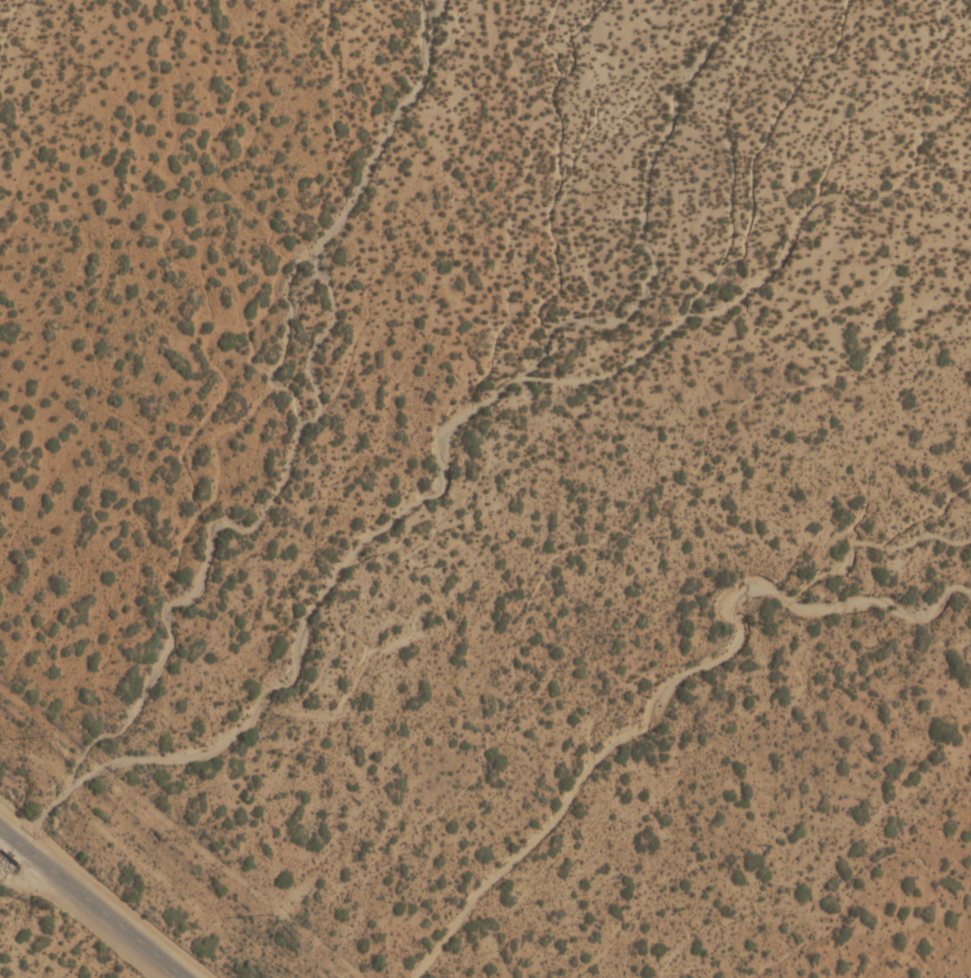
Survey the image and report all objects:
building: (22, 88)
building: (352, 125)
building: (241, 143)
building: (36, 163)
building: (390, 333)
road: (92, 903)

